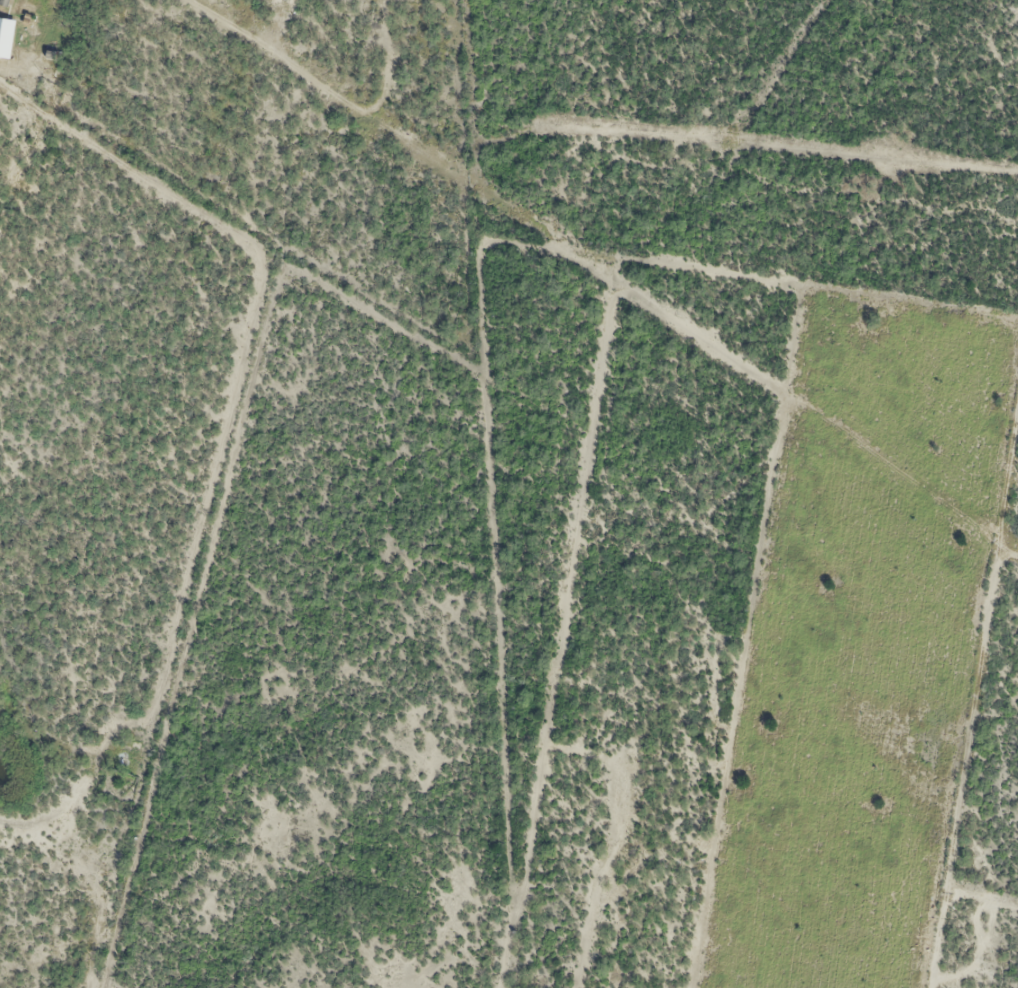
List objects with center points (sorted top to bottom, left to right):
building: (4, 36)

